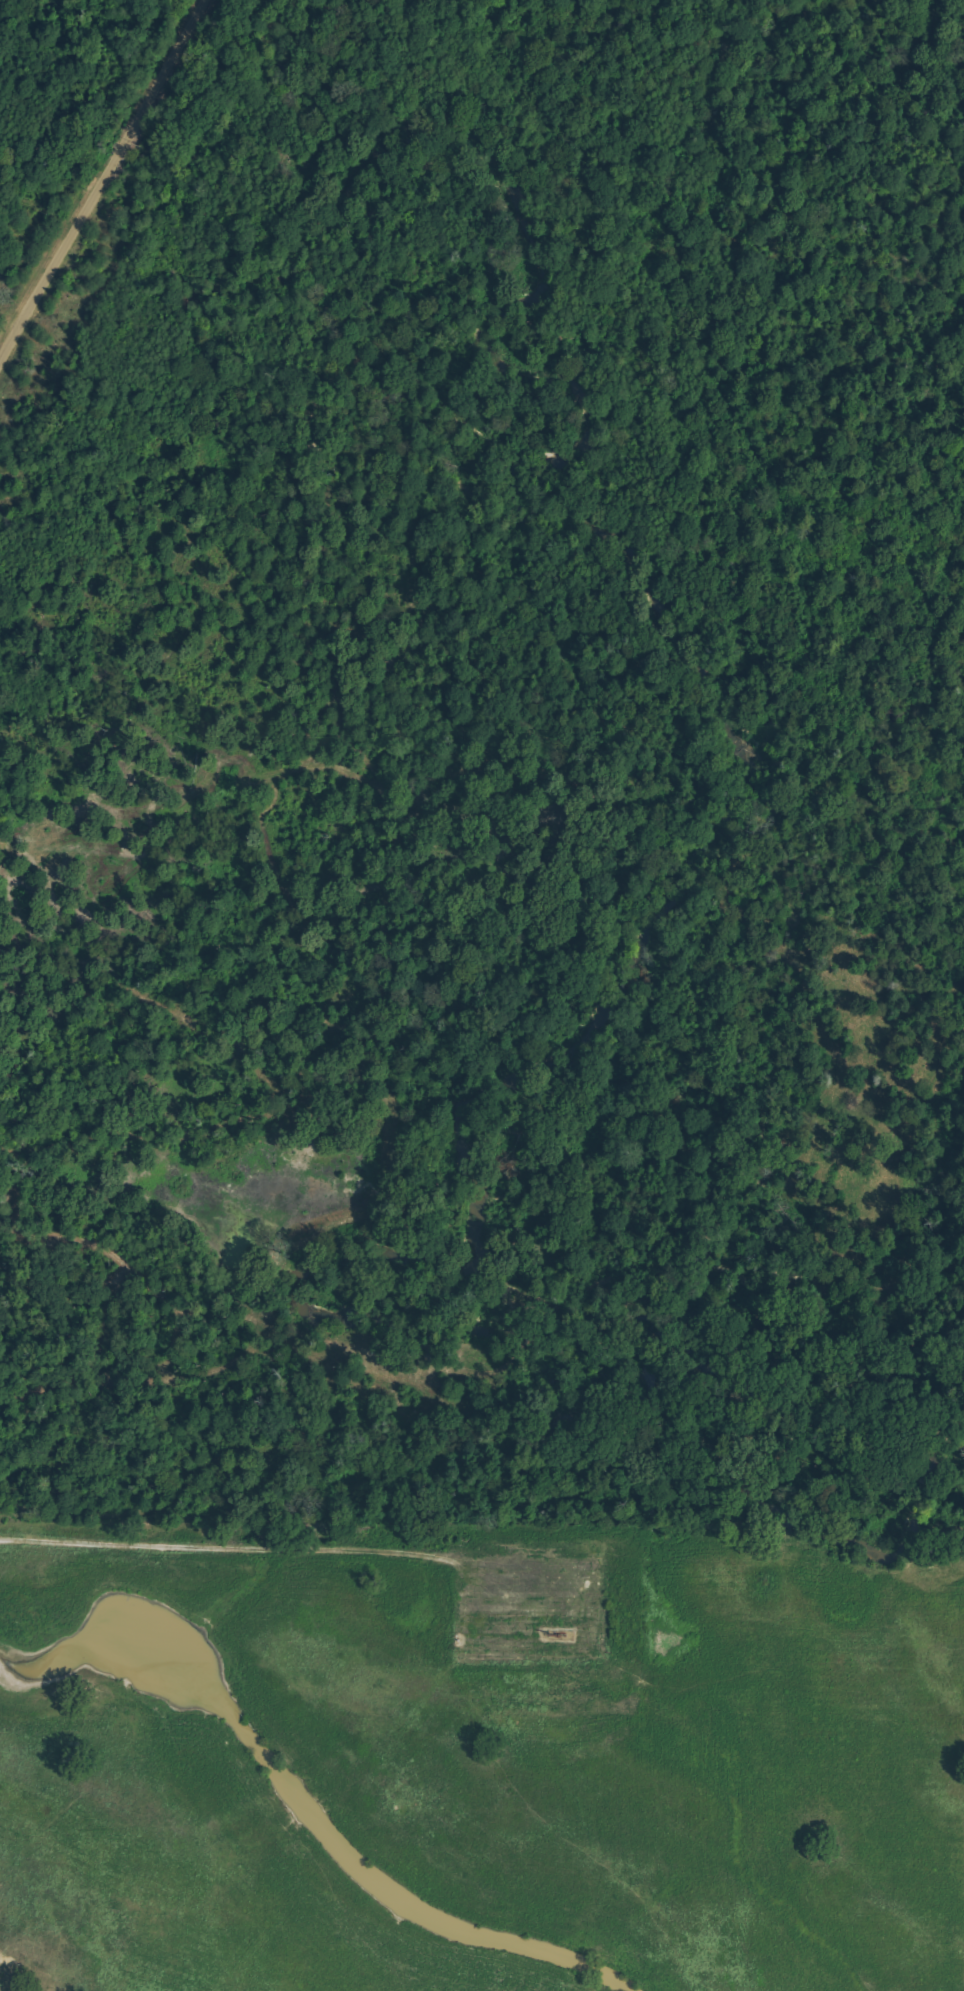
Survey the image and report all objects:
road: (102, 178)

